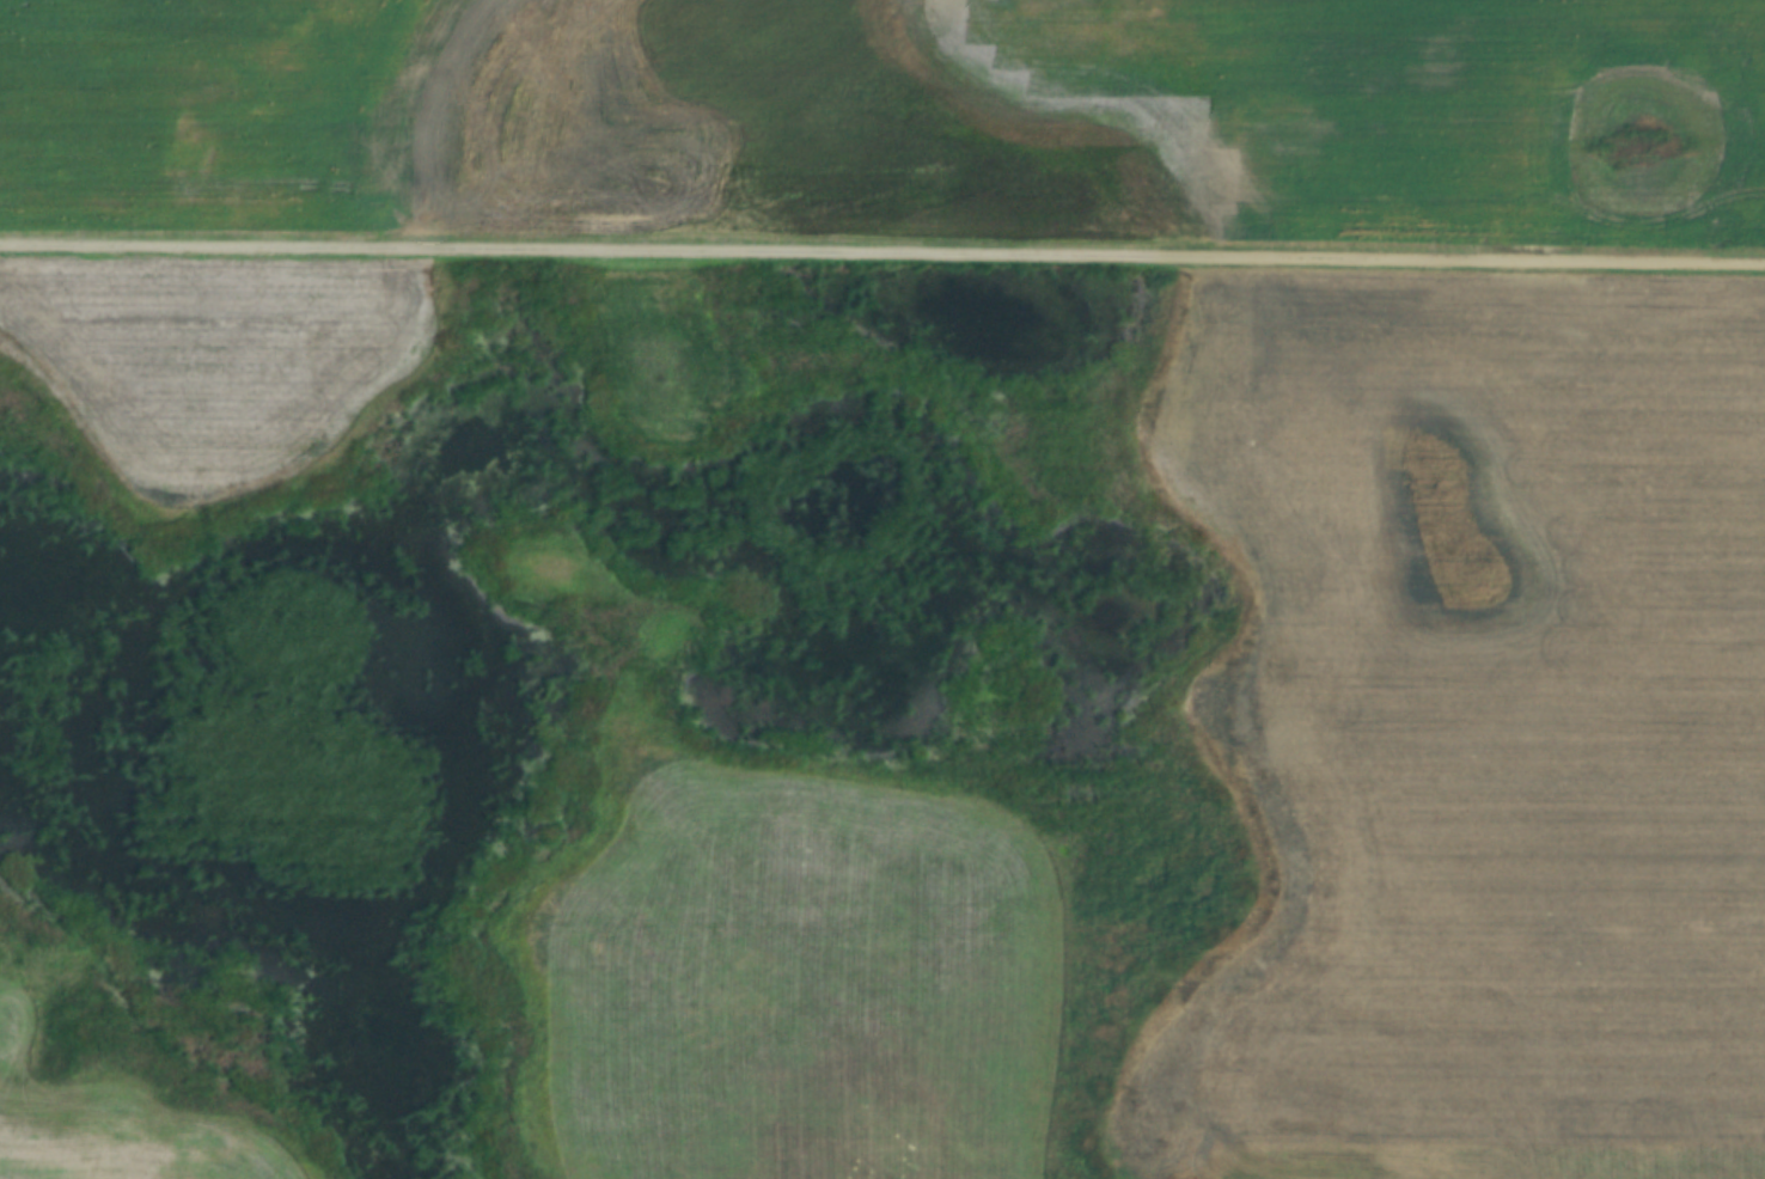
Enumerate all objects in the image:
road: (882, 255)

